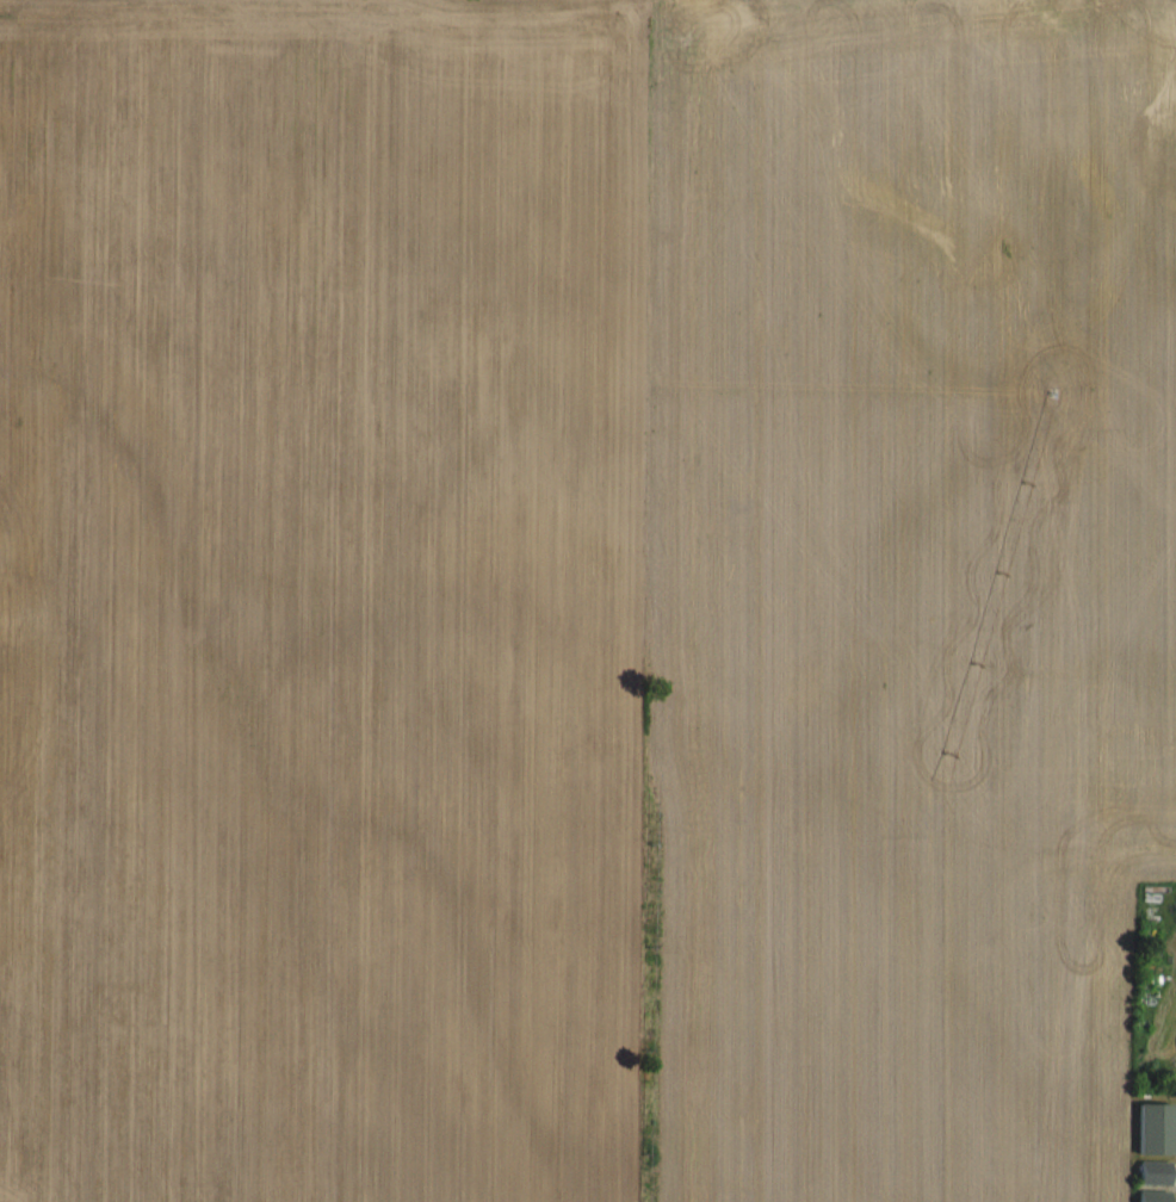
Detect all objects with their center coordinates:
building: (1158, 1127)

